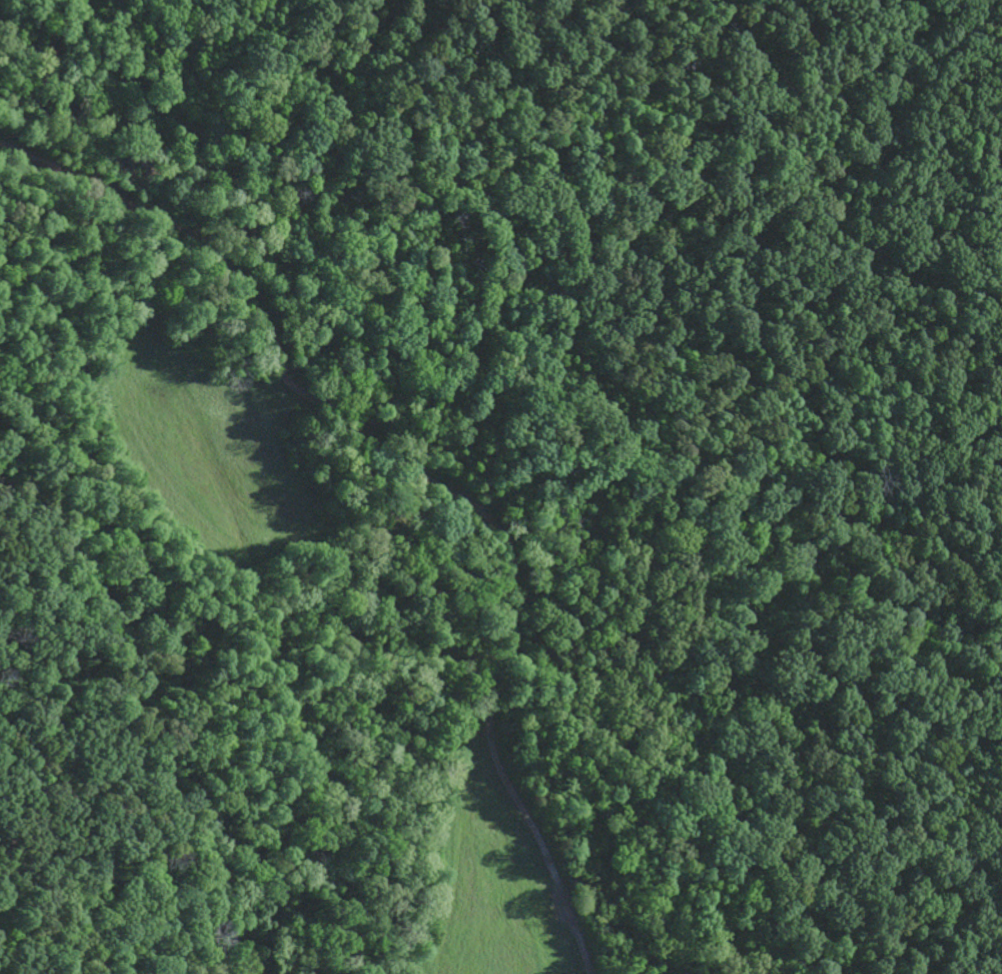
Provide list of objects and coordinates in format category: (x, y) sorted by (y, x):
road: (427, 474)

